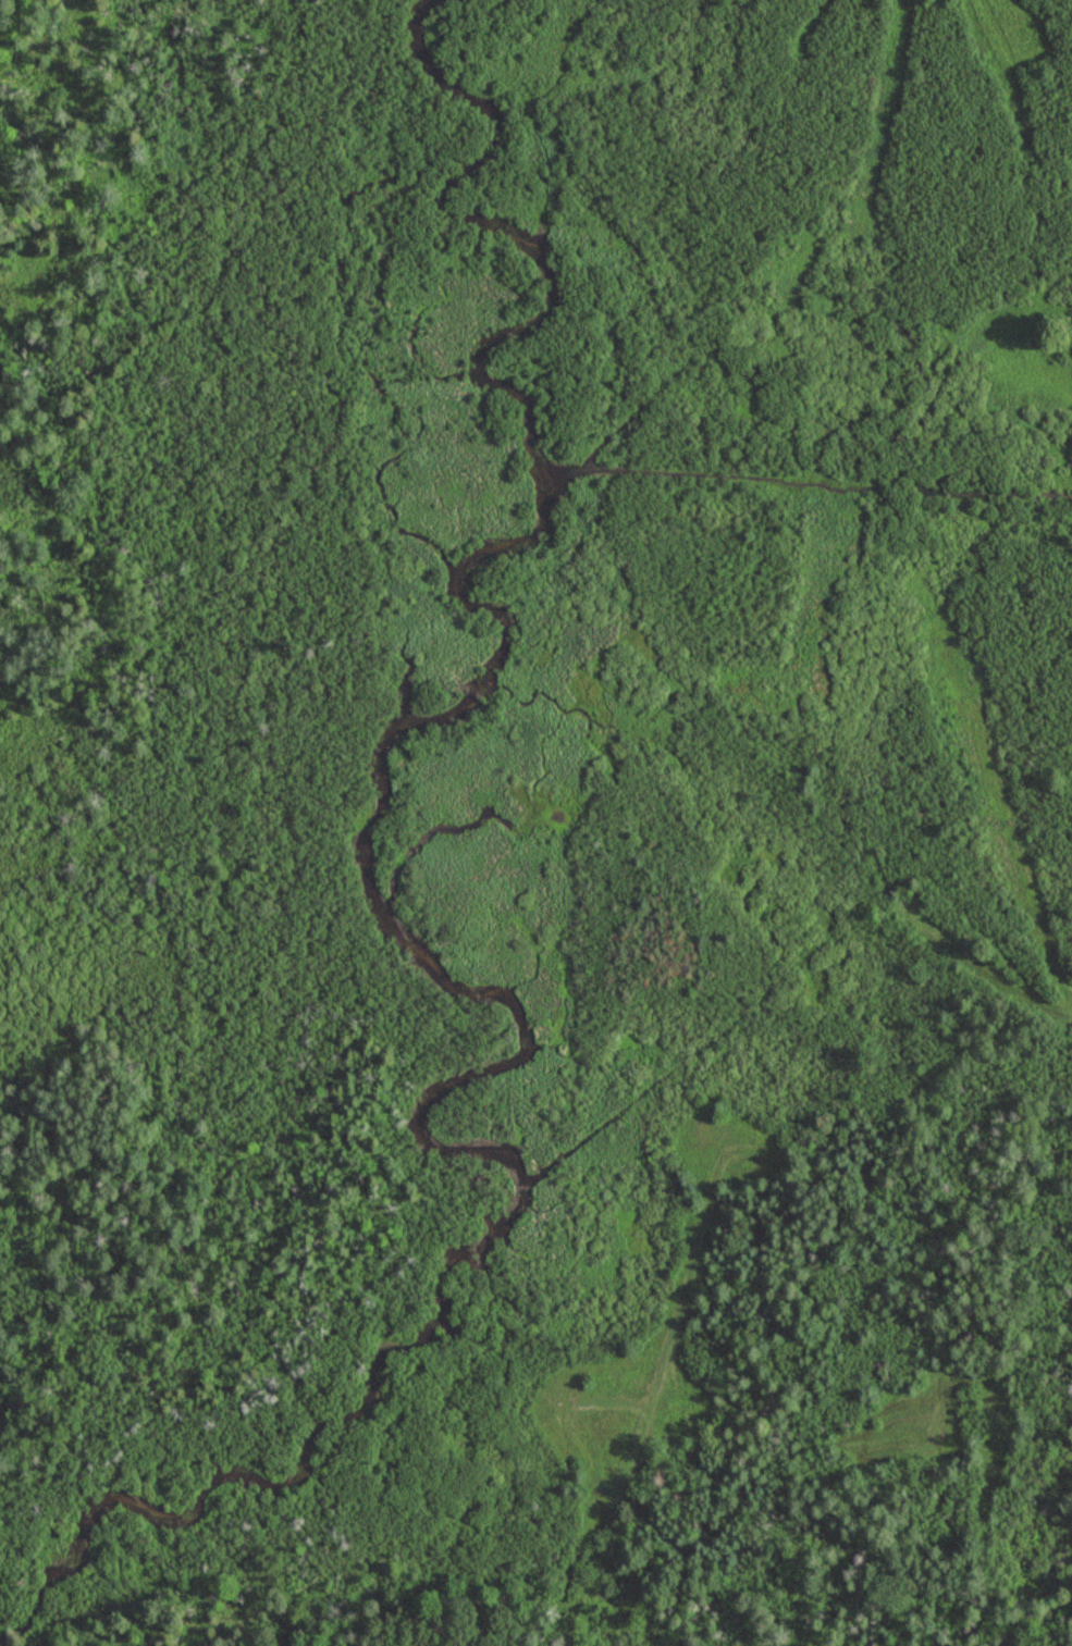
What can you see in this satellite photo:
river: (379, 908)

